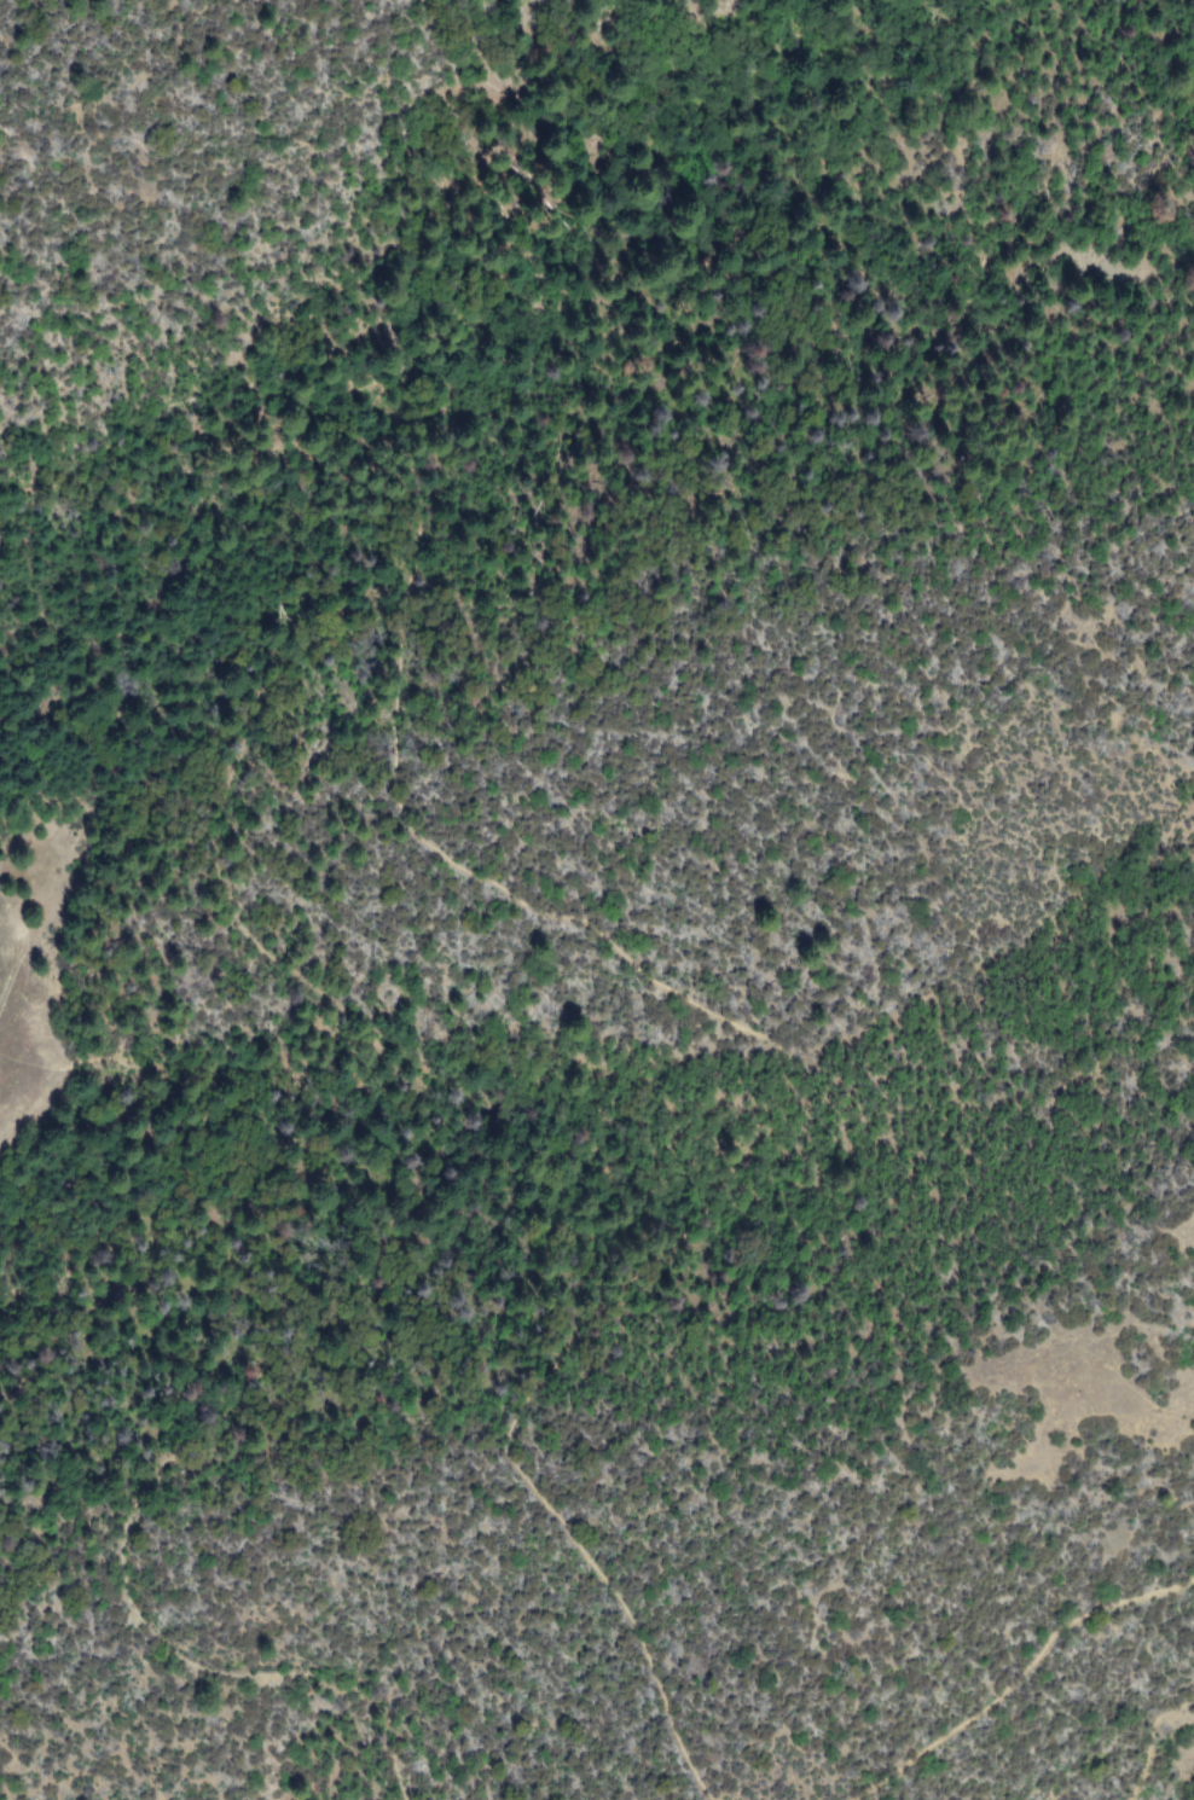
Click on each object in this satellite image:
road: (618, 953)
road: (1015, 1676)
road: (1150, 1738)

